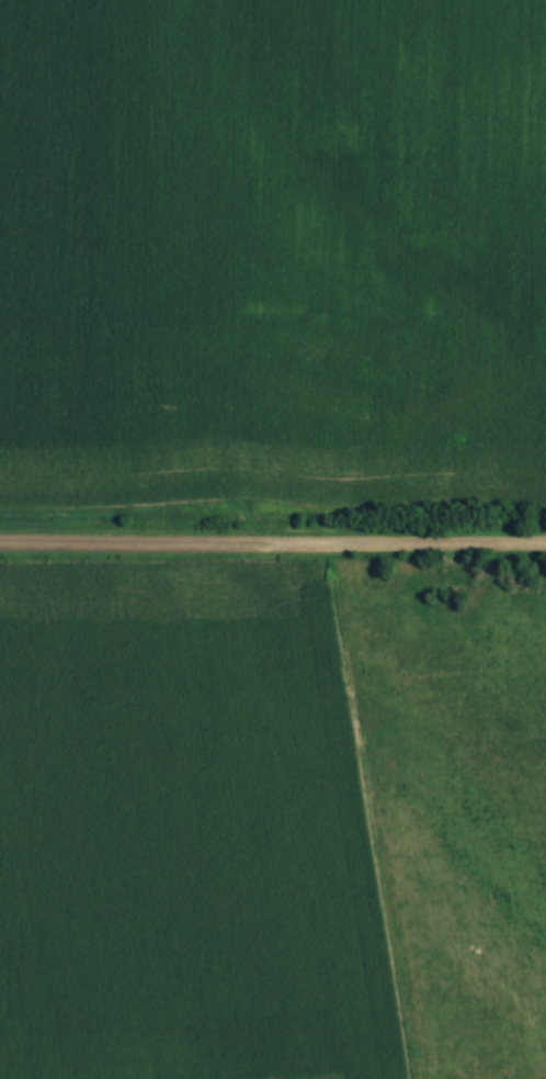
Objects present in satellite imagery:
road: (273, 543)

